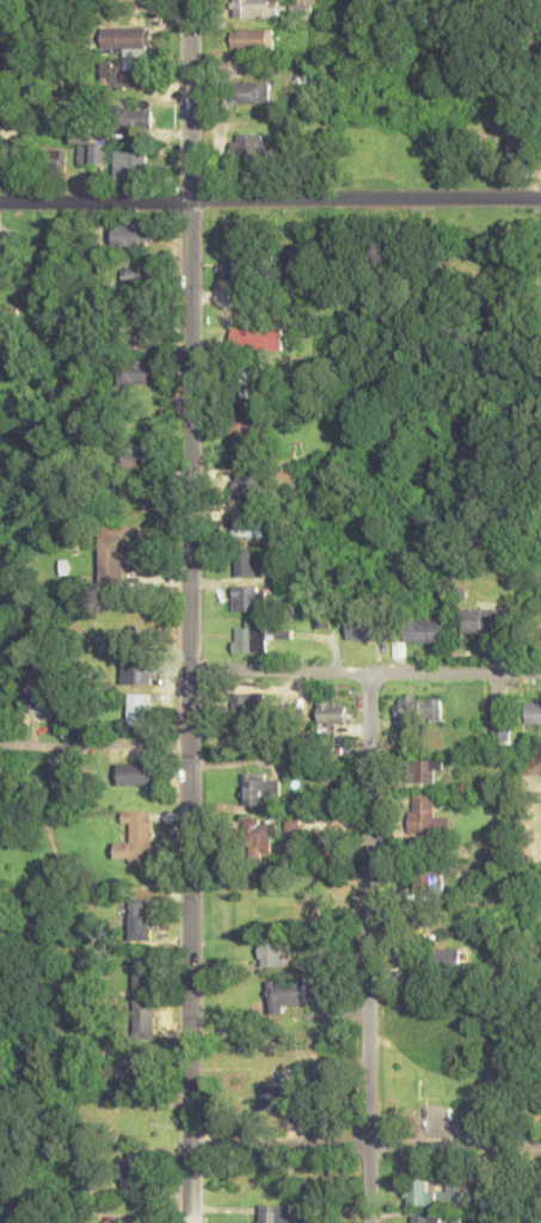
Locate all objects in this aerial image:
building: (257, 8)
building: (125, 38)
building: (251, 38)
building: (124, 76)
building: (251, 92)
building: (134, 118)
building: (245, 145)
building: (522, 145)
building: (96, 152)
building: (6, 159)
building: (130, 165)
road: (270, 201)
building: (131, 235)
building: (244, 265)
building: (136, 279)
building: (136, 336)
building: (257, 338)
building: (136, 371)
building: (250, 385)
building: (246, 440)
building: (139, 456)
building: (248, 486)
building: (248, 524)
building: (111, 558)
building: (245, 561)
building: (248, 598)
road: (190, 610)
building: (484, 620)
building: (364, 628)
building: (425, 631)
building: (256, 634)
building: (139, 670)
road: (364, 674)
building: (45, 695)
building: (248, 702)
building: (140, 708)
building: (418, 708)
building: (332, 712)
building: (533, 712)
building: (502, 724)
road: (94, 746)
building: (426, 769)
building: (133, 773)
building: (260, 788)
building: (424, 816)
building: (137, 836)
building: (259, 837)
building: (429, 879)
building: (139, 917)
road: (369, 948)
building: (270, 953)
building: (448, 963)
building: (143, 972)
building: (287, 994)
building: (145, 1015)
building: (277, 1061)
building: (131, 1069)
building: (442, 1080)
building: (499, 1081)
building: (281, 1096)
road: (365, 1143)
building: (128, 1173)
building: (425, 1193)
building: (272, 1213)
building: (424, 1218)
building: (113, 1222)

